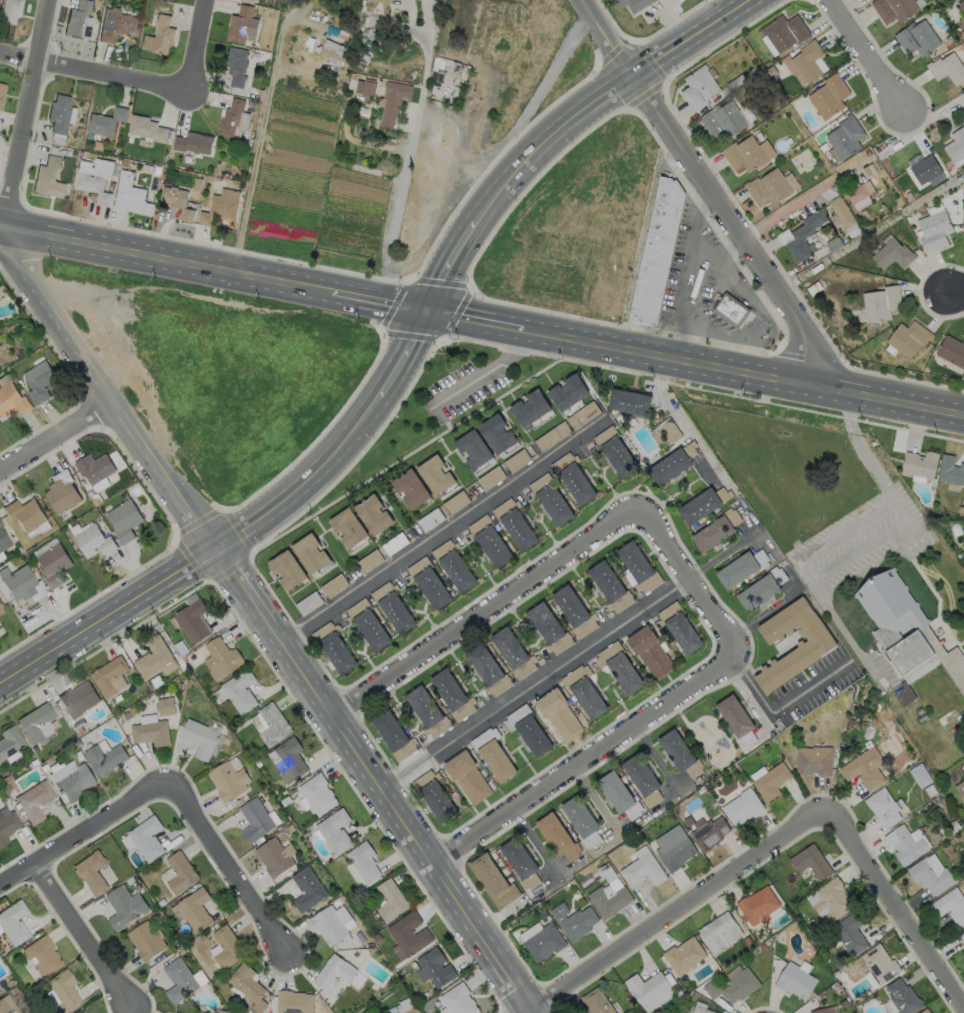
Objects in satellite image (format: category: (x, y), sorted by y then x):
building: (251, 0)
building: (385, 1)
building: (632, 4)
building: (962, 6)
building: (894, 9)
building: (9, 11)
building: (78, 20)
building: (962, 21)
building: (241, 23)
building: (119, 28)
building: (783, 31)
building: (159, 37)
building: (916, 38)
road: (192, 47)
building: (331, 49)
road: (866, 60)
building: (802, 62)
building: (236, 65)
building: (946, 68)
road: (91, 72)
building: (697, 86)
building: (365, 88)
building: (1, 91)
building: (827, 95)
road: (598, 98)
building: (393, 99)
building: (58, 114)
road: (28, 115)
building: (232, 119)
building: (721, 119)
building: (104, 121)
crop: (397, 122)
building: (145, 128)
road: (259, 131)
building: (843, 138)
building: (192, 143)
building: (957, 146)
road: (409, 151)
building: (742, 153)
building: (923, 168)
building: (94, 177)
building: (48, 179)
building: (767, 187)
road: (717, 190)
building: (858, 191)
building: (127, 194)
building: (176, 201)
road: (794, 204)
building: (219, 206)
building: (841, 212)
building: (933, 230)
building: (802, 235)
road: (722, 249)
building: (656, 252)
building: (891, 254)
road: (165, 261)
road: (450, 266)
road: (696, 272)
road: (956, 293)
road: (380, 301)
building: (880, 303)
building: (730, 309)
traffic signals: (429, 311)
road: (475, 319)
building: (907, 338)
building: (951, 350)
road: (404, 354)
road: (743, 370)
road: (485, 372)
building: (39, 380)
building: (566, 391)
road: (106, 394)
building: (11, 397)
building: (628, 401)
building: (529, 407)
building: (582, 415)
building: (495, 433)
building: (664, 433)
road: (55, 436)
building: (472, 448)
road: (860, 448)
building: (614, 451)
building: (672, 463)
building: (919, 463)
building: (93, 467)
building: (950, 469)
building: (434, 474)
building: (572, 478)
road: (308, 483)
building: (410, 488)
building: (61, 492)
building: (550, 499)
building: (455, 502)
building: (703, 504)
building: (24, 514)
building: (372, 514)
building: (123, 520)
building: (514, 523)
building: (0, 524)
building: (346, 527)
building: (714, 530)
road: (442, 534)
building: (3, 541)
building: (93, 541)
building: (488, 541)
building: (308, 552)
building: (52, 564)
building: (452, 565)
building: (637, 566)
building: (740, 567)
building: (285, 569)
road: (687, 576)
building: (17, 581)
road: (812, 581)
building: (427, 582)
building: (334, 585)
building: (609, 586)
road: (243, 587)
building: (760, 588)
building: (392, 607)
road: (485, 608)
building: (891, 608)
building: (0, 610)
building: (573, 610)
road: (762, 614)
road: (109, 618)
building: (192, 620)
building: (366, 624)
building: (678, 627)
building: (548, 628)
road: (845, 634)
building: (814, 645)
building: (333, 647)
building: (649, 651)
building: (512, 652)
building: (152, 657)
building: (222, 659)
building: (618, 666)
building: (487, 670)
building: (109, 676)
road: (537, 685)
building: (241, 690)
building: (583, 690)
building: (451, 694)
building: (904, 694)
building: (77, 699)
building: (165, 706)
road: (779, 708)
building: (426, 711)
building: (558, 713)
building: (735, 720)
building: (34, 722)
building: (275, 725)
building: (527, 729)
building: (150, 732)
building: (393, 735)
building: (200, 738)
building: (9, 741)
building: (492, 754)
road: (584, 754)
building: (678, 754)
building: (104, 758)
building: (813, 759)
building: (288, 763)
building: (863, 768)
building: (920, 775)
building: (467, 777)
building: (642, 778)
building: (229, 781)
building: (770, 781)
building: (74, 782)
road: (172, 787)
building: (959, 788)
building: (618, 794)
building: (434, 795)
building: (316, 799)
building: (33, 800)
building: (881, 806)
building: (741, 807)
road: (403, 817)
building: (256, 820)
building: (581, 820)
building: (7, 825)
building: (709, 832)
building: (334, 834)
building: (557, 836)
building: (147, 838)
building: (904, 845)
building: (674, 851)
road: (588, 858)
building: (276, 861)
building: (810, 861)
building: (520, 862)
building: (362, 865)
building: (642, 870)
building: (92, 872)
building: (181, 873)
building: (929, 875)
building: (491, 880)
building: (308, 892)
road: (74, 900)
building: (608, 900)
building: (830, 900)
building: (389, 902)
building: (757, 905)
building: (950, 905)
road: (899, 907)
building: (125, 908)
building: (194, 910)
road: (681, 910)
road: (91, 911)
road: (43, 919)
building: (13, 921)
building: (572, 921)
building: (331, 927)
road: (62, 930)
building: (719, 932)
building: (849, 932)
road: (81, 935)
building: (962, 936)
building: (408, 940)
building: (145, 941)
building: (543, 942)
building: (228, 947)
building: (683, 955)
building: (963, 955)
building: (43, 957)
building: (878, 964)
road: (124, 969)
building: (435, 969)
building: (334, 971)
building: (180, 980)
building: (794, 981)
road: (95, 985)
road: (146, 985)
building: (247, 986)
building: (733, 986)
building: (647, 987)
building: (64, 988)
building: (902, 996)
building: (294, 1002)
building: (456, 1002)
building: (595, 1002)
building: (6, 1005)
building: (700, 1008)
road: (128, 1010)
road: (130, 1010)
road: (136, 1010)
building: (824, 1010)
building: (413, 1011)
building: (924, 1011)
building: (83, 1012)

